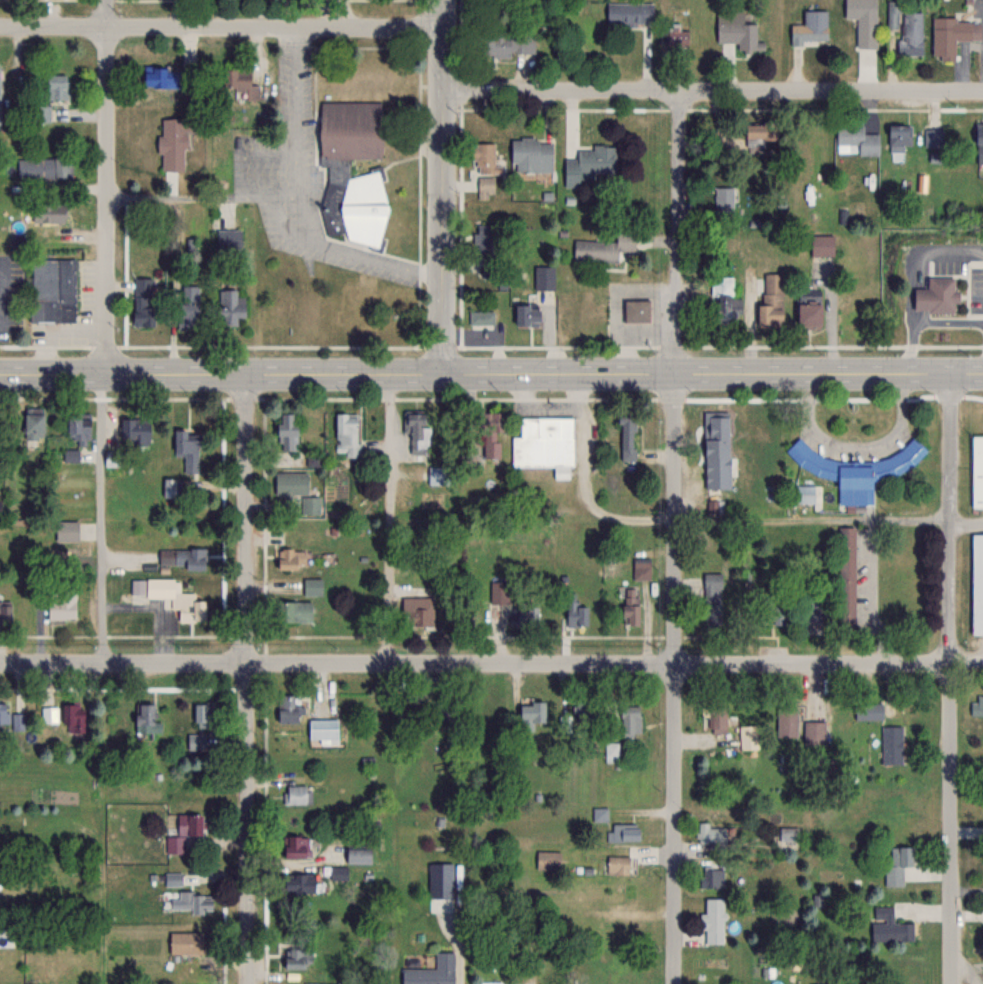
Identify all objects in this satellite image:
building: (629, 11)
building: (863, 21)
building: (811, 27)
road: (221, 28)
building: (906, 28)
building: (739, 33)
building: (949, 36)
building: (679, 37)
building: (506, 42)
building: (160, 77)
building: (240, 84)
road: (712, 93)
building: (50, 96)
building: (761, 131)
building: (899, 137)
building: (858, 139)
building: (979, 140)
building: (173, 143)
building: (532, 153)
building: (485, 158)
building: (589, 163)
building: (45, 169)
building: (338, 169)
road: (109, 186)
road: (441, 186)
building: (486, 186)
road: (205, 196)
road: (304, 198)
building: (724, 199)
building: (47, 212)
road: (671, 233)
building: (228, 238)
building: (484, 238)
building: (821, 245)
building: (604, 247)
building: (543, 277)
building: (51, 289)
building: (937, 295)
building: (723, 297)
building: (771, 300)
building: (142, 301)
building: (187, 306)
building: (228, 306)
building: (636, 310)
building: (808, 313)
building: (525, 314)
building: (481, 317)
road: (491, 373)
building: (32, 423)
building: (78, 426)
building: (134, 431)
building: (285, 431)
building: (716, 432)
building: (347, 433)
building: (418, 434)
building: (490, 434)
building: (627, 435)
building: (544, 441)
road: (857, 446)
building: (186, 448)
building: (70, 455)
building: (112, 458)
building: (857, 470)
building: (977, 471)
building: (296, 489)
building: (805, 494)
building: (0, 508)
road: (90, 517)
road: (812, 517)
road: (390, 518)
road: (966, 522)
building: (66, 530)
building: (181, 558)
building: (289, 558)
building: (642, 567)
building: (847, 576)
building: (977, 583)
building: (312, 586)
building: (499, 592)
building: (167, 596)
building: (713, 596)
road: (148, 602)
building: (61, 603)
building: (765, 603)
building: (630, 605)
building: (5, 609)
building: (812, 609)
building: (417, 610)
building: (293, 611)
building: (576, 612)
building: (529, 615)
road: (491, 664)
road: (249, 677)
road: (674, 678)
road: (950, 678)
building: (978, 706)
building: (287, 708)
building: (445, 710)
building: (580, 710)
building: (3, 712)
building: (868, 712)
building: (201, 713)
building: (48, 714)
building: (531, 714)
building: (73, 718)
building: (144, 719)
building: (718, 719)
building: (631, 720)
building: (17, 721)
building: (787, 721)
building: (324, 730)
building: (814, 733)
building: (749, 736)
building: (196, 741)
building: (891, 745)
building: (296, 794)
building: (183, 831)
building: (625, 831)
building: (712, 833)
building: (789, 834)
building: (297, 847)
building: (351, 860)
building: (548, 860)
building: (618, 864)
building: (897, 864)
building: (713, 876)
building: (297, 883)
building: (195, 902)
building: (713, 919)
building: (890, 926)
building: (186, 943)
building: (296, 959)
building: (432, 971)
building: (348, 983)

